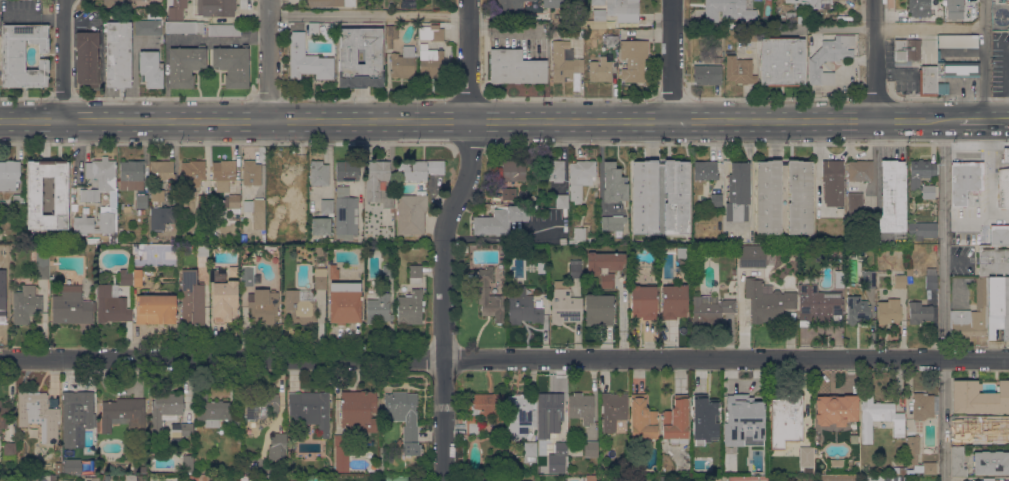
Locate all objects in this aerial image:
building: (597, 2)
building: (118, 3)
building: (330, 3)
building: (555, 3)
building: (506, 5)
building: (975, 6)
building: (216, 7)
building: (804, 8)
building: (918, 8)
building: (731, 9)
building: (955, 9)
building: (617, 12)
road: (369, 14)
road: (39, 16)
building: (180, 22)
building: (147, 27)
road: (891, 28)
building: (224, 29)
building: (430, 32)
building: (328, 34)
building: (391, 34)
building: (578, 34)
building: (590, 35)
building: (611, 40)
building: (957, 41)
building: (296, 45)
building: (907, 50)
building: (118, 54)
building: (23, 55)
building: (360, 57)
building: (828, 58)
building: (87, 59)
building: (633, 59)
road: (270, 60)
building: (431, 60)
road: (672, 60)
road: (873, 60)
road: (71, 61)
building: (781, 61)
building: (563, 62)
building: (403, 63)
building: (185, 65)
building: (232, 65)
building: (514, 67)
building: (956, 68)
building: (151, 69)
building: (600, 70)
building: (739, 70)
building: (707, 74)
road: (983, 74)
building: (926, 80)
building: (940, 87)
road: (951, 98)
road: (479, 120)
road: (983, 120)
building: (1005, 155)
road: (878, 159)
road: (328, 161)
building: (419, 169)
building: (347, 170)
building: (513, 170)
building: (551, 170)
building: (705, 170)
building: (829, 170)
building: (161, 171)
building: (860, 171)
building: (192, 173)
building: (251, 173)
building: (318, 173)
building: (9, 174)
building: (223, 174)
building: (131, 175)
building: (284, 175)
building: (579, 178)
building: (375, 179)
building: (963, 180)
building: (914, 181)
building: (613, 183)
building: (78, 185)
building: (1003, 189)
building: (73, 190)
building: (737, 192)
building: (507, 194)
building: (59, 195)
building: (892, 196)
building: (783, 197)
building: (98, 199)
building: (644, 199)
building: (141, 200)
building: (715, 200)
building: (18, 201)
building: (203, 201)
building: (554, 202)
building: (234, 204)
building: (293, 206)
building: (326, 206)
building: (533, 208)
building: (855, 208)
building: (141, 211)
building: (159, 211)
building: (256, 211)
building: (411, 213)
building: (345, 214)
road: (976, 214)
building: (534, 216)
building: (499, 220)
building: (613, 224)
building: (320, 226)
building: (922, 230)
building: (870, 231)
building: (369, 235)
building: (579, 235)
road: (442, 238)
building: (1004, 238)
road: (943, 239)
building: (93, 240)
building: (416, 246)
building: (202, 249)
building: (837, 249)
building: (319, 251)
building: (683, 251)
building: (752, 259)
building: (993, 260)
building: (604, 266)
building: (575, 269)
building: (42, 270)
building: (233, 271)
building: (332, 271)
building: (387, 271)
building: (909, 271)
building: (734, 272)
building: (414, 274)
building: (248, 276)
building: (125, 277)
building: (137, 277)
building: (356, 277)
building: (931, 277)
building: (320, 278)
building: (839, 278)
building: (868, 279)
building: (899, 281)
building: (489, 296)
building: (223, 297)
building: (192, 299)
building: (644, 301)
building: (674, 301)
building: (767, 301)
building: (3, 304)
building: (26, 304)
building: (564, 304)
building: (818, 304)
building: (71, 306)
building: (111, 306)
building: (263, 306)
building: (300, 306)
building: (998, 306)
building: (341, 307)
building: (378, 307)
building: (410, 308)
building: (710, 308)
building: (155, 309)
building: (599, 309)
building: (523, 310)
building: (888, 311)
building: (857, 312)
building: (919, 312)
building: (971, 316)
road: (504, 358)
building: (979, 397)
building: (260, 404)
building: (924, 405)
building: (581, 408)
building: (165, 409)
building: (310, 409)
building: (835, 409)
building: (358, 410)
building: (482, 410)
building: (613, 411)
building: (746, 411)
building: (214, 412)
building: (787, 412)
building: (402, 413)
building: (39, 414)
building: (123, 414)
building: (548, 414)
building: (5, 415)
building: (518, 415)
building: (703, 416)
building: (77, 417)
building: (879, 417)
road: (943, 419)
building: (642, 420)
building: (676, 420)
building: (1000, 425)
building: (974, 426)
building: (187, 429)
building: (778, 435)
building: (791, 435)
building: (740, 440)
building: (141, 442)
building: (277, 446)
building: (591, 448)
building: (912, 448)
building: (561, 449)
building: (9, 450)
building: (529, 451)
building: (341, 453)
building: (153, 456)
building: (806, 456)
building: (957, 462)
building: (991, 462)
building: (188, 463)
building: (290, 465)
building: (72, 466)
building: (58, 468)
building: (929, 468)
building: (139, 469)
building: (562, 470)
building: (899, 470)
building: (907, 471)
building: (107, 477)
building: (52, 478)
building: (589, 478)
building: (839, 478)
building: (893, 478)
building: (91, 479)
building: (662, 479)
building: (988, 479)
building: (630, 480)
building: (969, 480)

